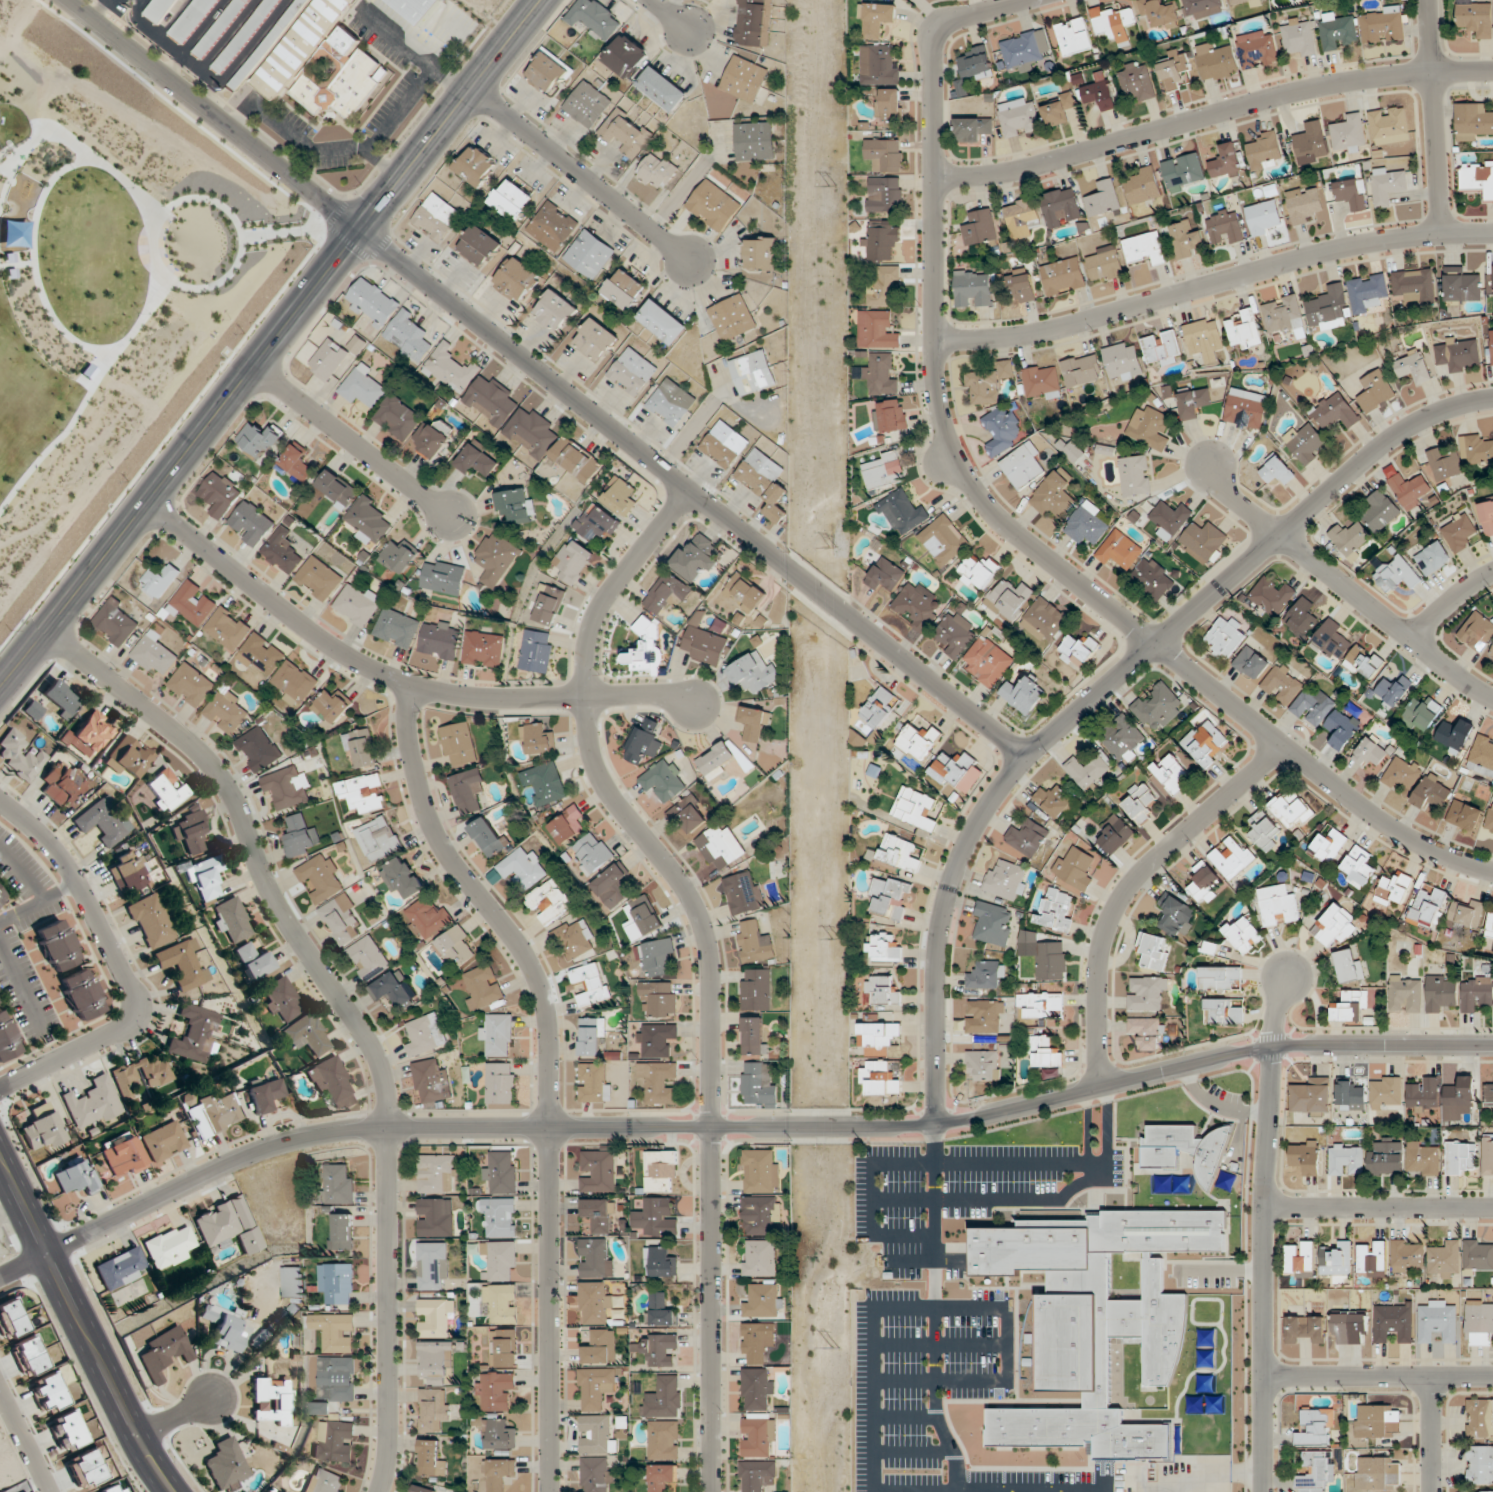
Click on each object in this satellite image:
building: (1245, 2)
building: (1201, 8)
building: (418, 9)
building: (163, 11)
road: (668, 14)
building: (1159, 15)
building: (595, 17)
building: (1476, 17)
building: (191, 19)
building: (877, 20)
building: (754, 23)
building: (1112, 23)
building: (1383, 25)
building: (219, 27)
building: (1339, 30)
building: (244, 35)
building: (1074, 36)
building: (1299, 37)
building: (267, 44)
building: (1257, 49)
road: (412, 50)
building: (1024, 50)
building: (627, 56)
building: (349, 57)
building: (1216, 61)
building: (977, 62)
building: (878, 66)
building: (1175, 70)
building: (547, 72)
building: (744, 79)
building: (1138, 81)
building: (662, 89)
building: (1100, 94)
building: (587, 104)
building: (888, 104)
building: (1058, 110)
road: (1211, 114)
road: (214, 115)
road: (1434, 116)
building: (1019, 117)
building: (1472, 121)
building: (1389, 126)
building: (972, 129)
building: (625, 134)
building: (1349, 134)
building: (756, 141)
building: (1311, 143)
building: (1264, 151)
road: (333, 153)
building: (885, 155)
building: (1225, 162)
road: (383, 165)
building: (476, 166)
building: (656, 171)
building: (1183, 172)
road: (582, 176)
building: (1477, 179)
building: (1388, 184)
building: (1143, 186)
building: (885, 194)
building: (1352, 194)
building: (512, 200)
building: (1103, 200)
building: (1304, 204)
building: (713, 205)
building: (1061, 207)
building: (436, 218)
building: (1022, 218)
building: (1264, 218)
building: (1225, 226)
building: (552, 227)
building: (980, 228)
building: (1184, 238)
building: (881, 240)
building: (479, 246)
building: (1145, 248)
building: (759, 253)
building: (589, 254)
building: (1104, 265)
building: (1063, 276)
building: (517, 279)
park: (113, 284)
building: (883, 284)
road: (1213, 284)
building: (1022, 286)
building: (1415, 286)
building: (1462, 286)
building: (973, 288)
building: (624, 289)
building: (1367, 293)
building: (372, 302)
building: (1328, 309)
building: (554, 311)
building: (1284, 316)
building: (732, 318)
building: (662, 322)
building: (877, 330)
building: (1244, 330)
building: (409, 336)
building: (595, 340)
building: (1204, 340)
road: (271, 343)
building: (1491, 347)
building: (1162, 348)
building: (1459, 354)
building: (328, 359)
building: (1123, 361)
building: (451, 368)
building: (1413, 368)
building: (1082, 370)
building: (632, 372)
building: (752, 372)
building: (881, 374)
building: (1042, 382)
building: (986, 385)
building: (362, 386)
building: (1375, 391)
building: (491, 400)
building: (671, 402)
building: (1194, 403)
building: (1246, 409)
building: (1335, 412)
building: (890, 416)
building: (397, 418)
road: (692, 426)
building: (1149, 428)
building: (1001, 431)
building: (532, 433)
road: (349, 439)
building: (431, 439)
building: (259, 440)
building: (1305, 442)
building: (724, 445)
building: (1479, 449)
building: (577, 459)
building: (476, 461)
building: (297, 463)
building: (1444, 464)
building: (1022, 466)
building: (1276, 470)
building: (883, 471)
building: (1135, 476)
building: (764, 482)
building: (1410, 490)
building: (337, 491)
road: (692, 493)
building: (1053, 494)
building: (220, 495)
building: (621, 496)
building: (515, 506)
building: (1380, 510)
building: (902, 513)
building: (1171, 517)
building: (1487, 517)
building: (367, 520)
building: (598, 523)
building: (251, 524)
road: (1006, 524)
building: (1086, 524)
building: (1458, 534)
building: (1350, 539)
building: (944, 540)
building: (1204, 542)
building: (1120, 550)
building: (282, 552)
building: (398, 557)
building: (496, 558)
building: (1433, 558)
building: (696, 559)
building: (574, 561)
building: (980, 570)
building: (886, 576)
building: (443, 577)
building: (1399, 577)
building: (1153, 578)
building: (318, 579)
building: (158, 580)
road: (1345, 585)
building: (667, 593)
building: (745, 593)
building: (1272, 597)
building: (1009, 599)
building: (193, 604)
building: (357, 604)
road: (1450, 604)
building: (917, 606)
building: (1304, 618)
building: (1044, 620)
building: (116, 622)
building: (397, 628)
building: (227, 629)
building: (1477, 631)
building: (954, 635)
building: (1224, 637)
building: (1331, 639)
building: (440, 640)
building: (704, 646)
building: (483, 649)
building: (646, 650)
building: (1079, 650)
building: (1491, 650)
building: (537, 652)
building: (154, 654)
building: (261, 656)
building: (987, 662)
building: (1251, 663)
building: (1363, 664)
building: (752, 674)
road: (395, 679)
building: (294, 682)
building: (1283, 684)
building: (191, 685)
road: (1103, 688)
building: (1393, 691)
building: (1024, 694)
building: (60, 699)
building: (331, 706)
building: (1158, 706)
building: (879, 707)
building: (1313, 707)
building: (32, 711)
building: (227, 711)
building: (1423, 714)
building: (754, 724)
building: (1342, 729)
building: (93, 732)
building: (1455, 735)
building: (538, 739)
building: (1122, 739)
building: (918, 742)
building: (1207, 744)
building: (458, 745)
building: (642, 746)
building: (257, 749)
building: (362, 749)
building: (1370, 752)
building: (1482, 754)
building: (20, 755)
building: (127, 759)
building: (717, 760)
building: (958, 772)
building: (1088, 772)
building: (1402, 773)
building: (1171, 774)
building: (663, 781)
building: (545, 783)
building: (60, 785)
building: (286, 788)
building: (166, 790)
building: (466, 791)
building: (365, 793)
building: (1432, 793)
building: (1054, 801)
building: (1140, 803)
building: (915, 808)
building: (1291, 809)
building: (688, 813)
building: (1461, 815)
building: (1491, 819)
building: (103, 821)
building: (568, 826)
building: (190, 832)
building: (1264, 832)
building: (300, 834)
building: (1115, 834)
building: (487, 837)
building: (1027, 837)
building: (379, 839)
building: (1328, 847)
building: (719, 848)
building: (900, 853)
building: (592, 854)
building: (1231, 857)
building: (522, 867)
building: (1358, 867)
building: (1075, 868)
building: (129, 871)
building: (321, 878)
building: (402, 878)
building: (206, 880)
building: (1005, 880)
building: (1204, 884)
road: (1130, 885)
building: (613, 887)
building: (1395, 889)
building: (743, 893)
building: (2, 895)
building: (890, 897)
building: (549, 902)
building: (1277, 905)
building: (1427, 907)
building: (1055, 909)
building: (645, 915)
building: (1466, 915)
building: (1176, 916)
building: (342, 918)
building: (427, 918)
building: (230, 920)
building: (152, 922)
building: (993, 923)
building: (1490, 924)
building: (1334, 925)
building: (1243, 935)
building: (574, 939)
building: (754, 944)
building: (58, 945)
building: (456, 946)
building: (883, 949)
building: (1154, 951)
building: (657, 958)
road: (707, 958)
building: (368, 959)
building: (1048, 960)
building: (251, 962)
road: (118, 963)
building: (182, 964)
building: (1349, 966)
building: (986, 975)
building: (1220, 978)
building: (591, 984)
building: (482, 987)
building: (393, 989)
building: (756, 989)
building: (882, 991)
building: (1147, 993)
building: (1441, 993)
building: (82, 994)
building: (1406, 994)
building: (1476, 994)
building: (659, 999)
building: (281, 1000)
building: (1042, 1005)
building: (1351, 1007)
road: (343, 1011)
building: (1223, 1012)
building: (985, 1017)
building: (1146, 1033)
building: (195, 1034)
building: (425, 1035)
building: (498, 1035)
building: (878, 1035)
building: (306, 1036)
building: (753, 1036)
building: (591, 1037)
building: (7, 1038)
building: (655, 1040)
building: (1045, 1052)
building: (984, 1065)
road: (547, 1070)
building: (141, 1075)
building: (431, 1081)
building: (331, 1082)
building: (659, 1082)
building: (501, 1083)
building: (595, 1083)
building: (759, 1083)
building: (1386, 1093)
building: (1422, 1094)
building: (264, 1095)
building: (1488, 1095)
building: (1350, 1096)
building: (1312, 1098)
building: (1460, 1101)
building: (93, 1103)
building: (217, 1113)
road: (1105, 1125)
road: (761, 1126)
road: (1085, 1127)
building: (41, 1128)
building: (164, 1141)
building: (1185, 1149)
building: (1487, 1155)
building: (1305, 1157)
building: (124, 1158)
building: (1386, 1158)
building: (1460, 1158)
building: (1423, 1159)
building: (1346, 1160)
building: (597, 1171)
building: (760, 1171)
building: (501, 1172)
building: (660, 1172)
building: (437, 1174)
building: (75, 1177)
building: (1226, 1181)
building: (338, 1184)
road: (1021, 1198)
road: (1379, 1206)
building: (599, 1215)
building: (759, 1215)
building: (499, 1216)
building: (435, 1218)
building: (654, 1219)
building: (228, 1226)
building: (343, 1232)
road: (1264, 1233)
building: (169, 1247)
building: (1478, 1255)
building: (1407, 1256)
building: (596, 1258)
building: (758, 1258)
building: (499, 1259)
building: (1372, 1259)
building: (1301, 1260)
building: (1337, 1260)
building: (1445, 1260)
building: (661, 1263)
building: (432, 1265)
road: (24, 1267)
building: (120, 1268)
building: (291, 1283)
building: (337, 1284)
building: (763, 1302)
building: (501, 1303)
building: (594, 1303)
road: (933, 1309)
building: (661, 1310)
building: (1479, 1318)
building: (10, 1319)
building: (436, 1319)
building: (1097, 1320)
building: (1437, 1322)
building: (1393, 1323)
road: (83, 1326)
building: (223, 1328)
building: (1349, 1329)
building: (1306, 1330)
building: (335, 1333)
building: (757, 1342)
building: (598, 1348)
building: (504, 1349)
building: (658, 1350)
building: (163, 1352)
building: (28, 1356)
building: (438, 1365)
road: (1378, 1376)
building: (336, 1380)
building: (595, 1388)
building: (757, 1389)
building: (496, 1391)
building: (47, 1393)
building: (664, 1399)
building: (273, 1401)
building: (434, 1409)
building: (1480, 1418)
building: (1378, 1421)
road: (179, 1422)
building: (1315, 1428)
building: (66, 1432)
road: (1431, 1434)
building: (499, 1435)
building: (596, 1435)
building: (759, 1435)
building: (663, 1441)
road: (22, 1443)
building: (335, 1444)
building: (430, 1460)
building: (227, 1465)
building: (1480, 1465)
building: (88, 1468)
building: (1315, 1472)
building: (1379, 1473)
building: (499, 1474)
building: (596, 1474)
building: (757, 1475)
building: (662, 1477)
building: (324, 1482)
building: (421, 1489)
building: (1480, 1491)

